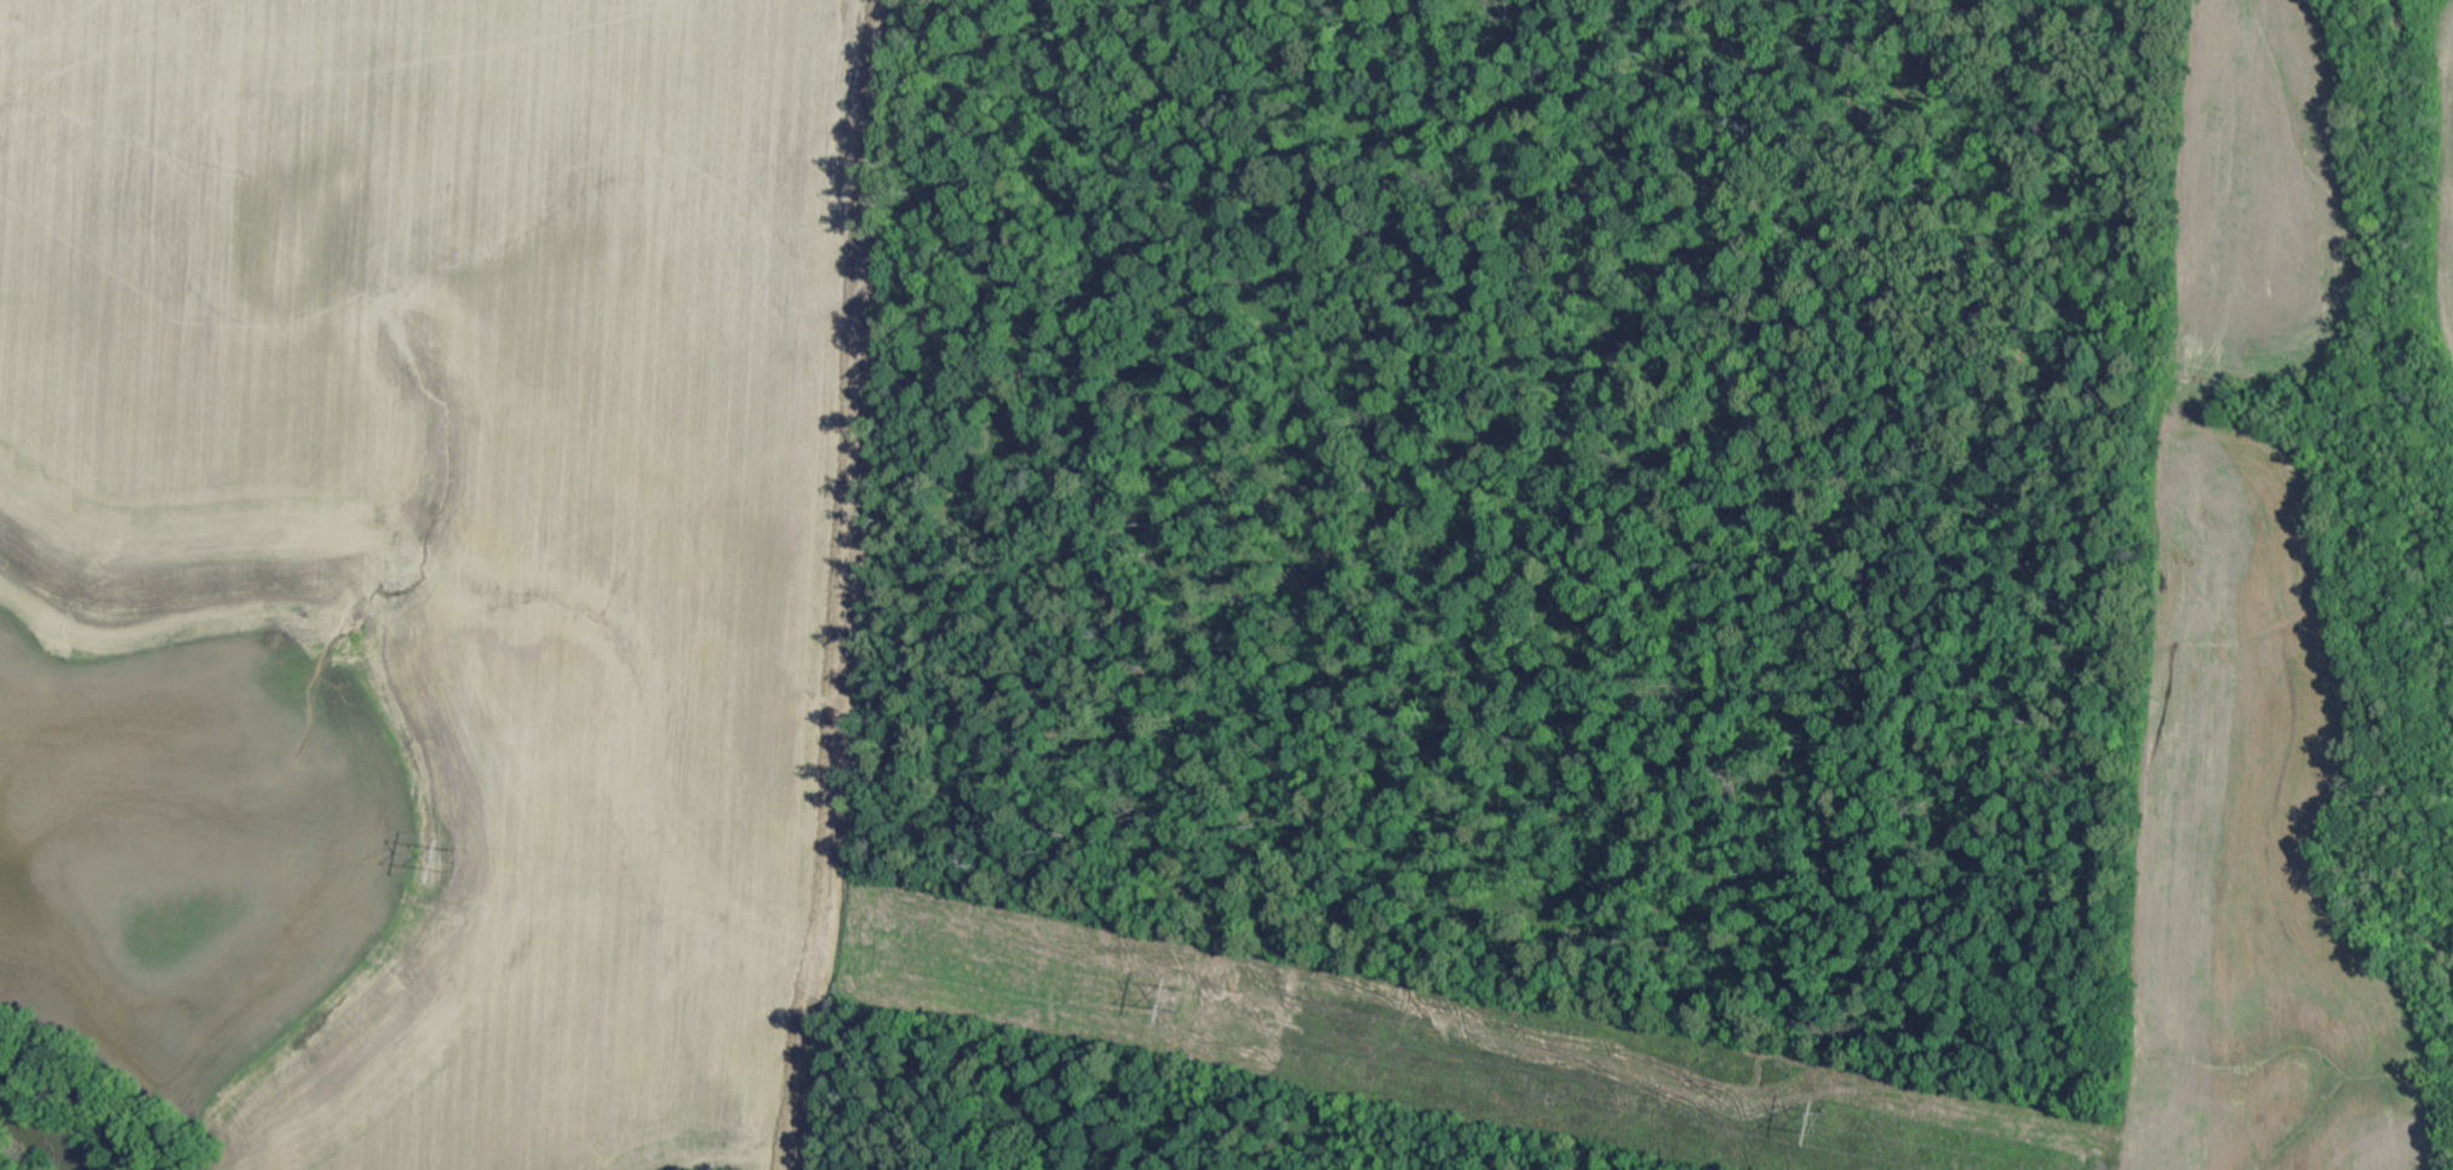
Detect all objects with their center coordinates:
power tower: (454, 860)
power tower: (1174, 998)
power tower: (1824, 1119)
river: (35, 1135)

